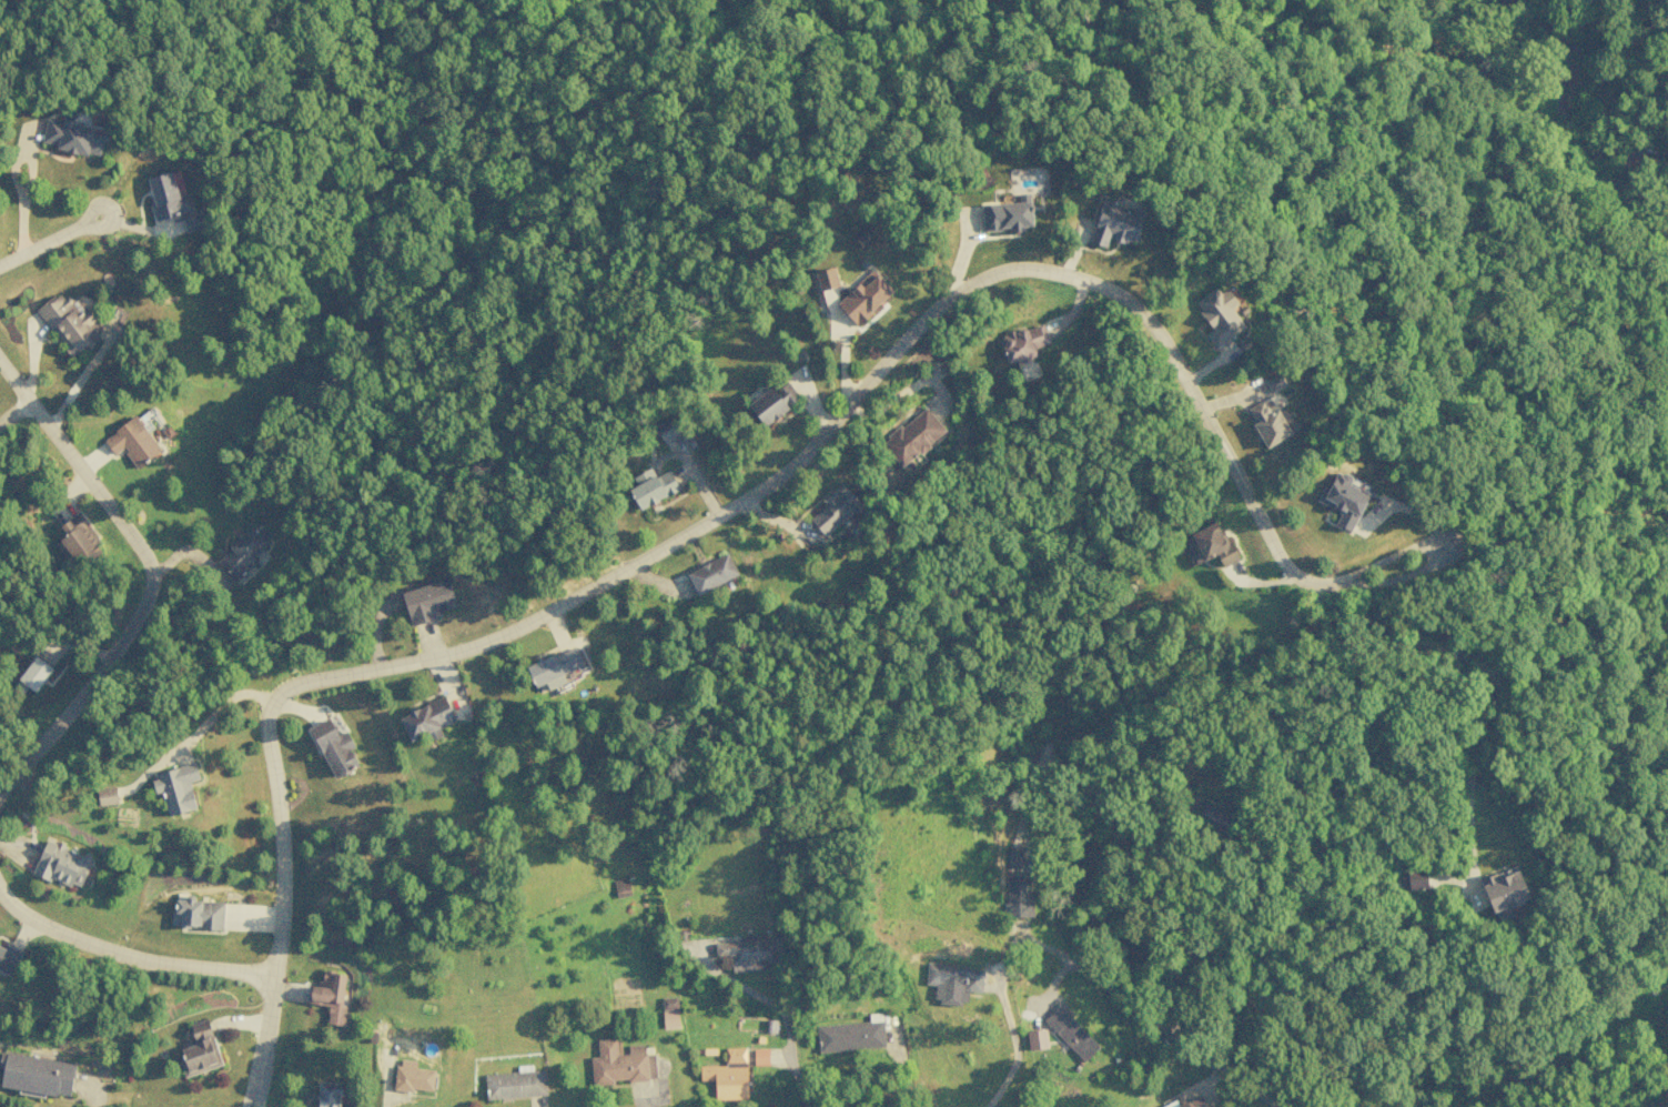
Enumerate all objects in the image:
building: (72, 137)
building: (165, 197)
building: (1005, 215)
building: (193, 221)
building: (1115, 224)
road: (48, 242)
building: (823, 279)
building: (863, 296)
building: (1219, 315)
building: (69, 322)
building: (1022, 343)
building: (1274, 382)
road: (13, 383)
building: (769, 404)
road: (13, 412)
building: (1267, 423)
building: (912, 436)
building: (132, 442)
building: (653, 489)
building: (1343, 500)
building: (837, 514)
road: (712, 520)
building: (1207, 545)
building: (242, 552)
building: (711, 573)
road: (143, 600)
building: (427, 601)
building: (553, 668)
building: (32, 675)
building: (426, 718)
building: (334, 748)
building: (175, 788)
building: (105, 796)
building: (1215, 816)
building: (1013, 857)
building: (61, 864)
building: (1416, 879)
building: (620, 887)
building: (1503, 892)
building: (1017, 898)
building: (198, 913)
building: (747, 952)
road: (129, 957)
building: (8, 958)
building: (953, 982)
building: (330, 995)
building: (669, 1013)
building: (1070, 1033)
building: (850, 1036)
building: (1037, 1039)
building: (200, 1049)
building: (760, 1056)
building: (620, 1064)
building: (36, 1075)
building: (727, 1075)
building: (413, 1079)
building: (514, 1084)
building: (327, 1095)
building: (1191, 1103)

